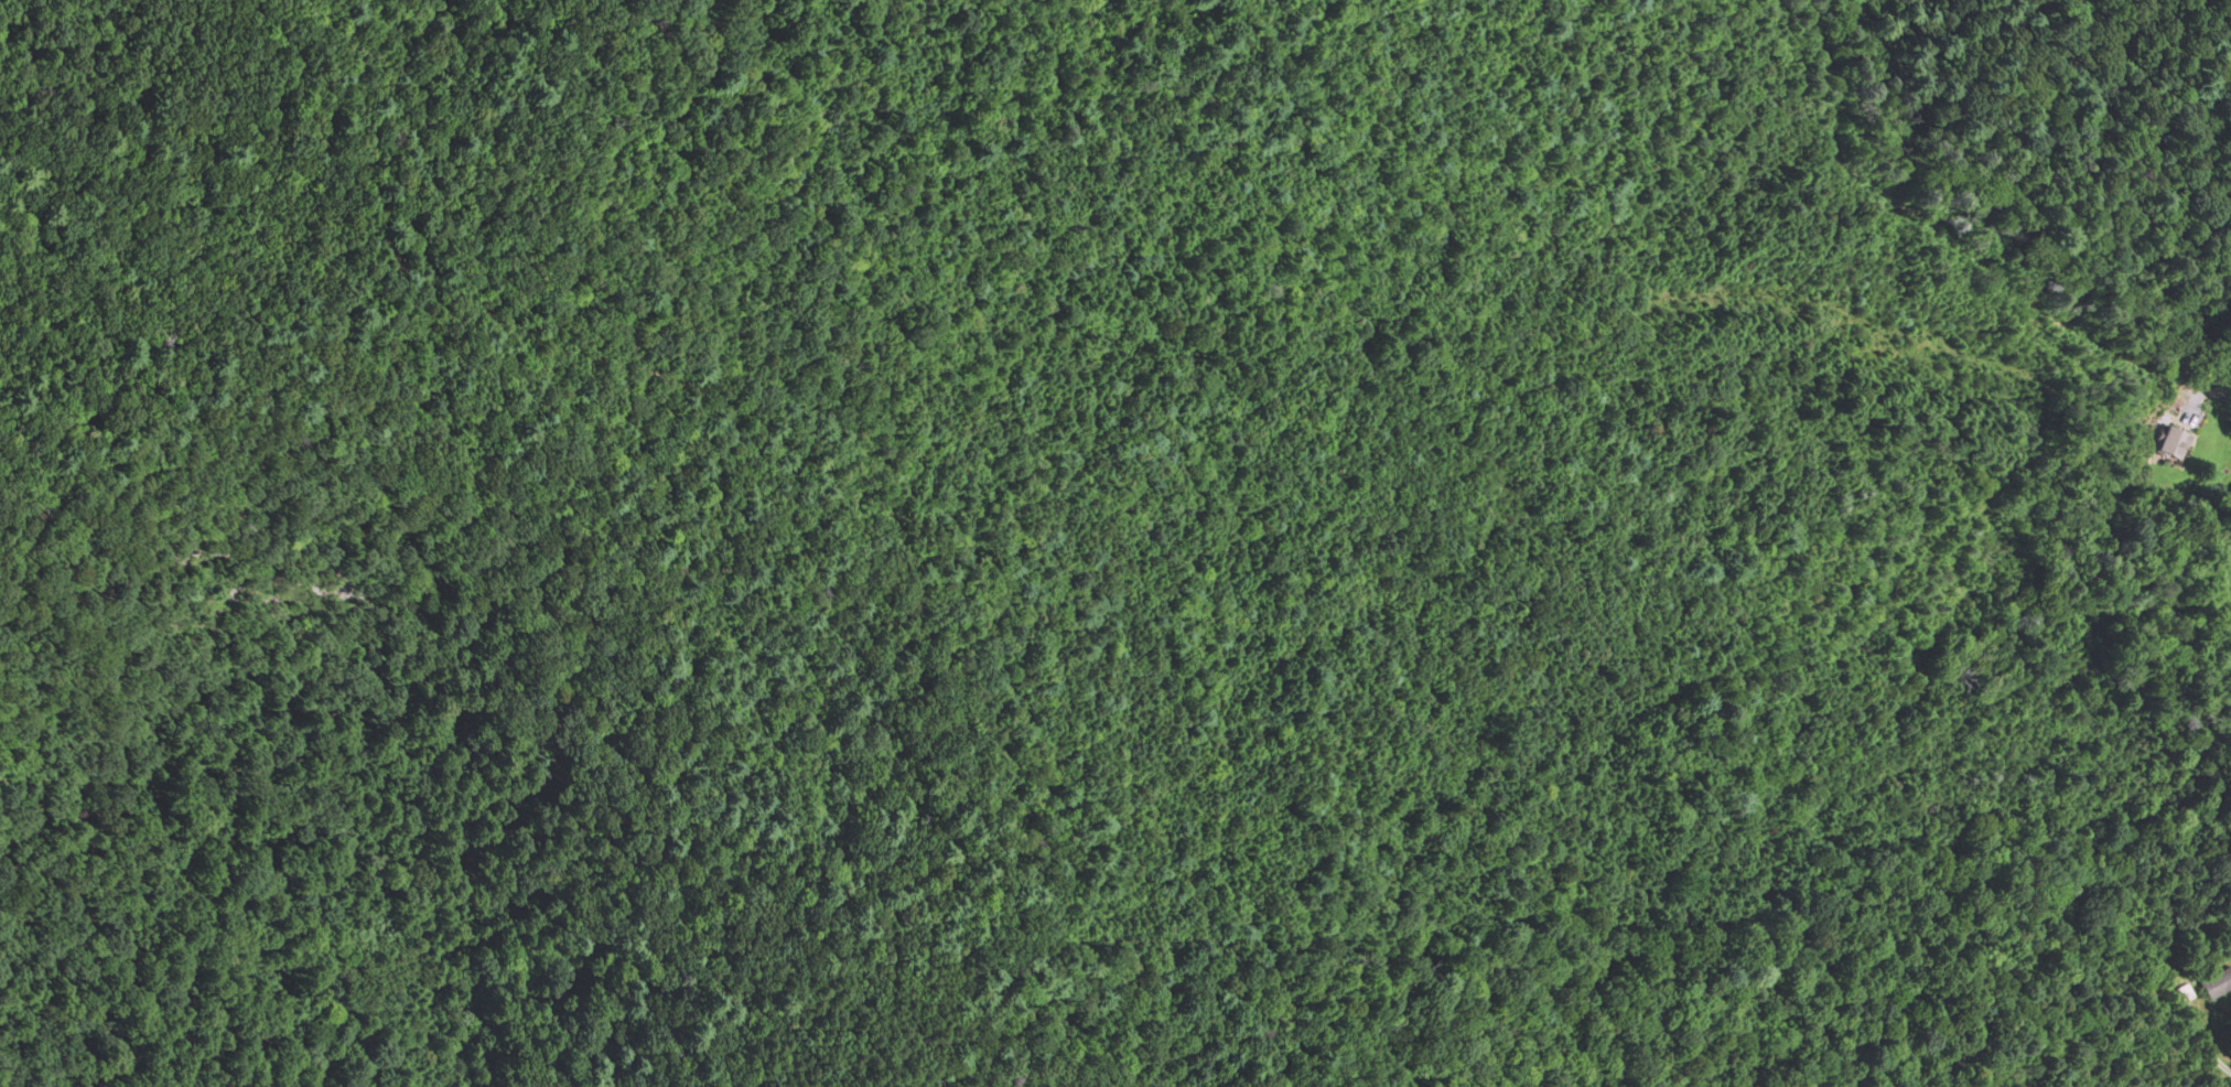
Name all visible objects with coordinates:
road: (1944, 275)
building: (2166, 443)
building: (2213, 983)

